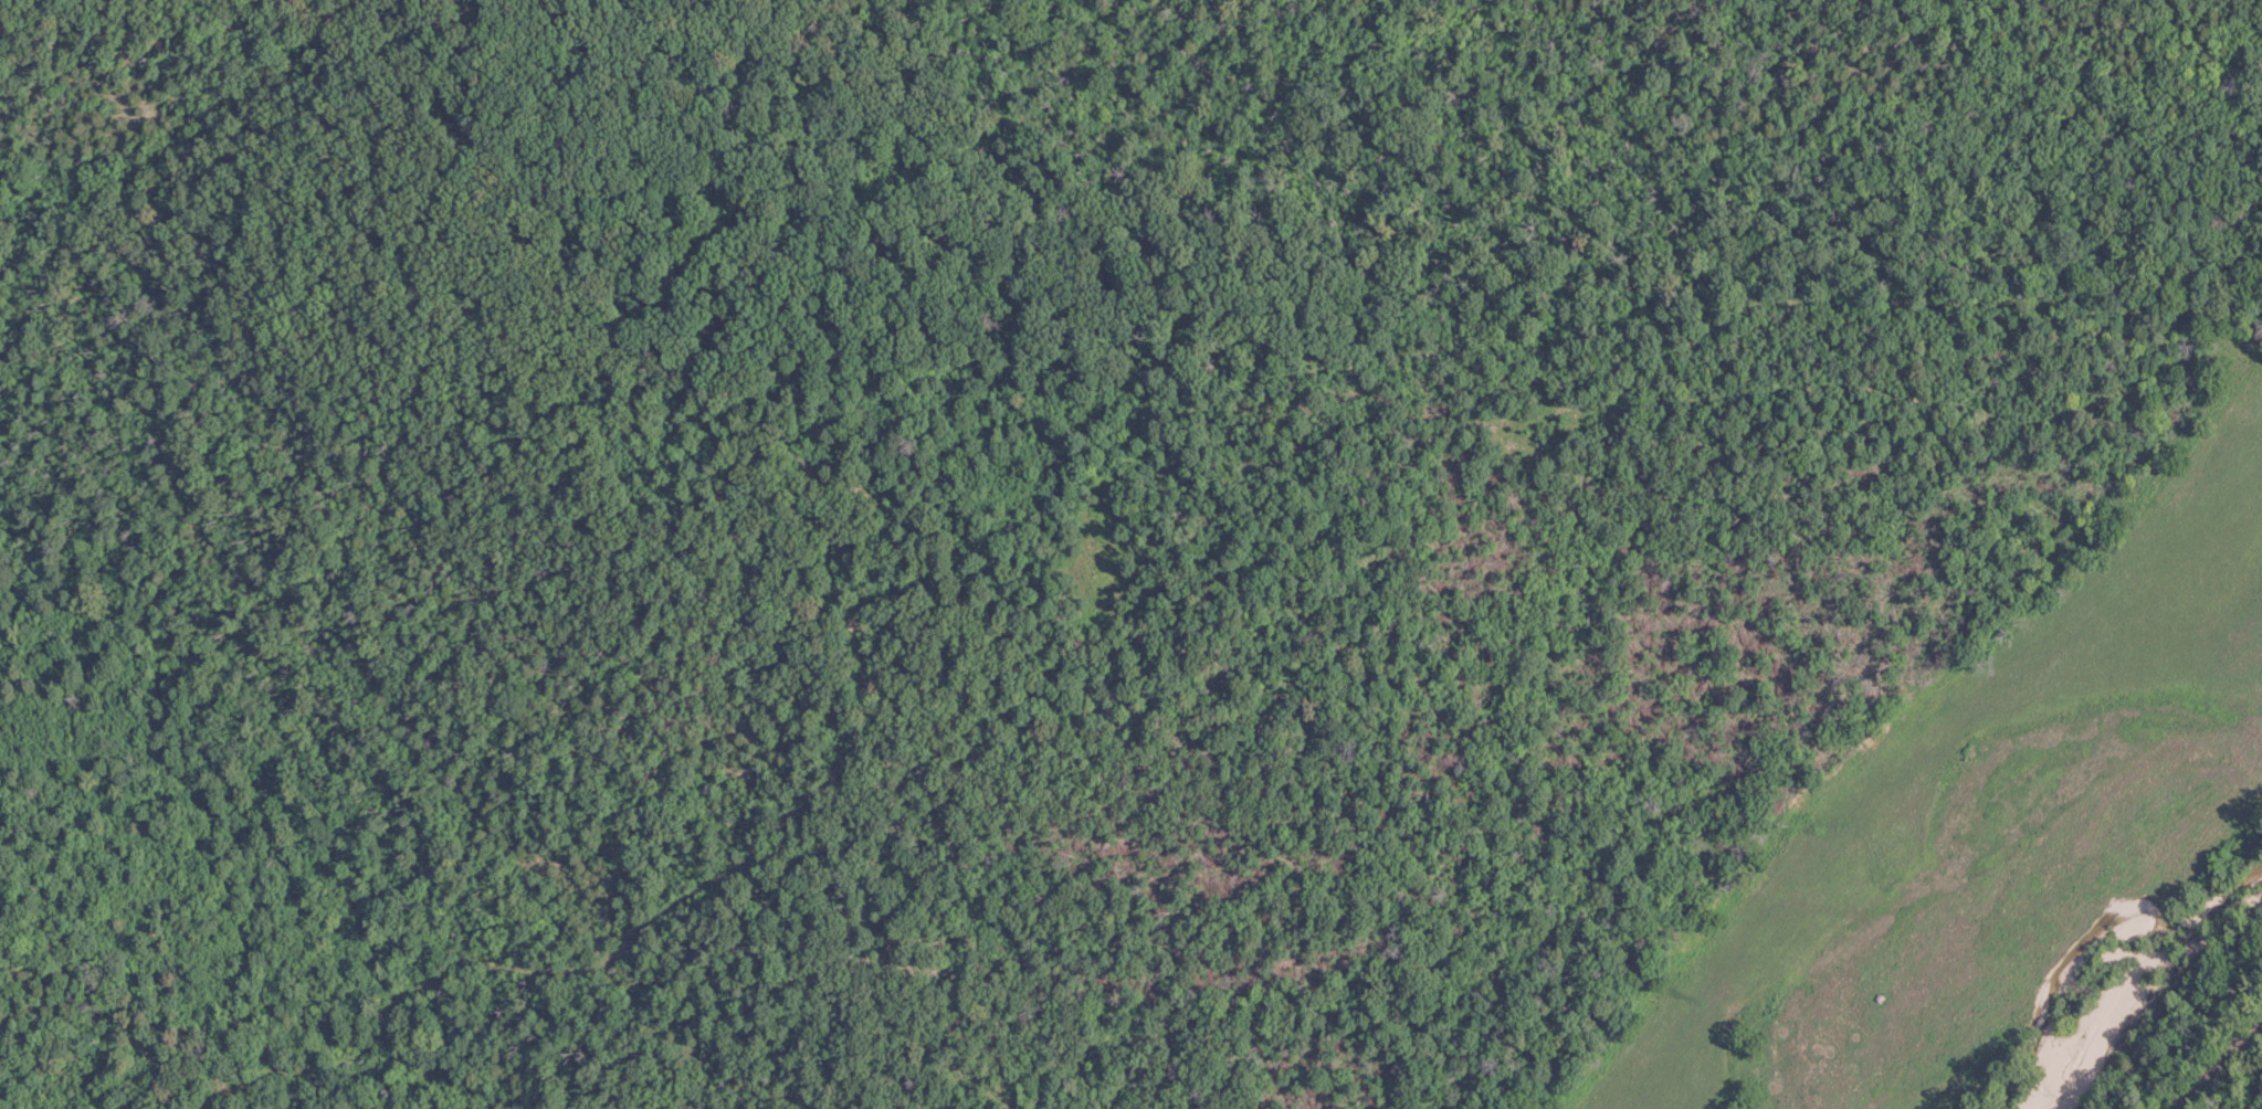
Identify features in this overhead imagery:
railway: (2217, 1063)

